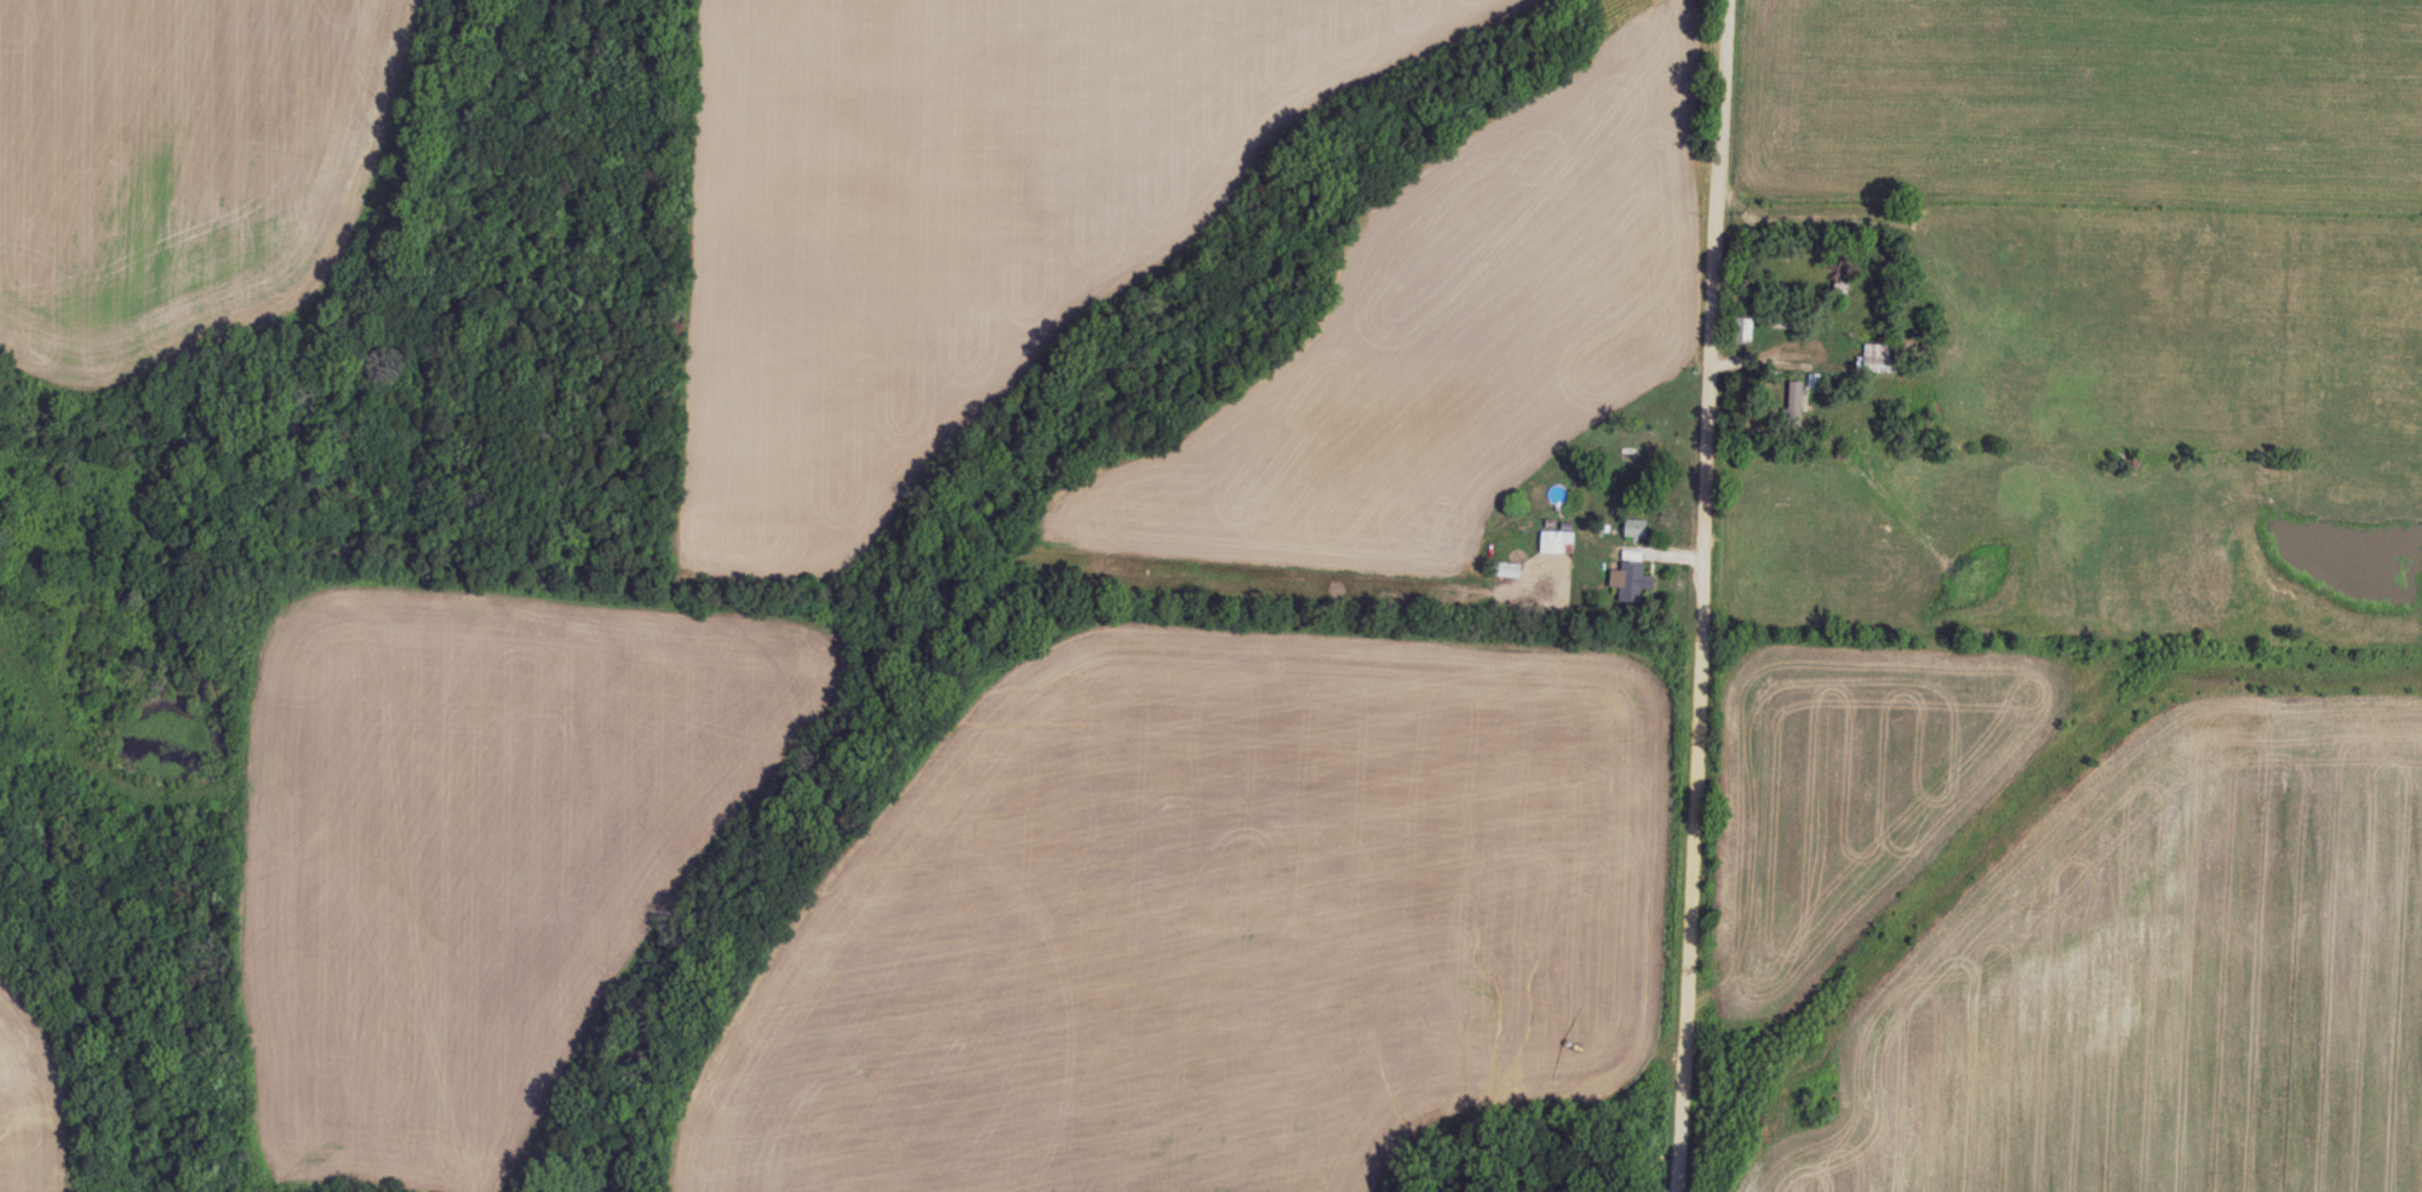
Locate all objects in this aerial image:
building: (1741, 327)
building: (1793, 395)
building: (1632, 525)
building: (1554, 538)
building: (1630, 574)
road: (1700, 595)

